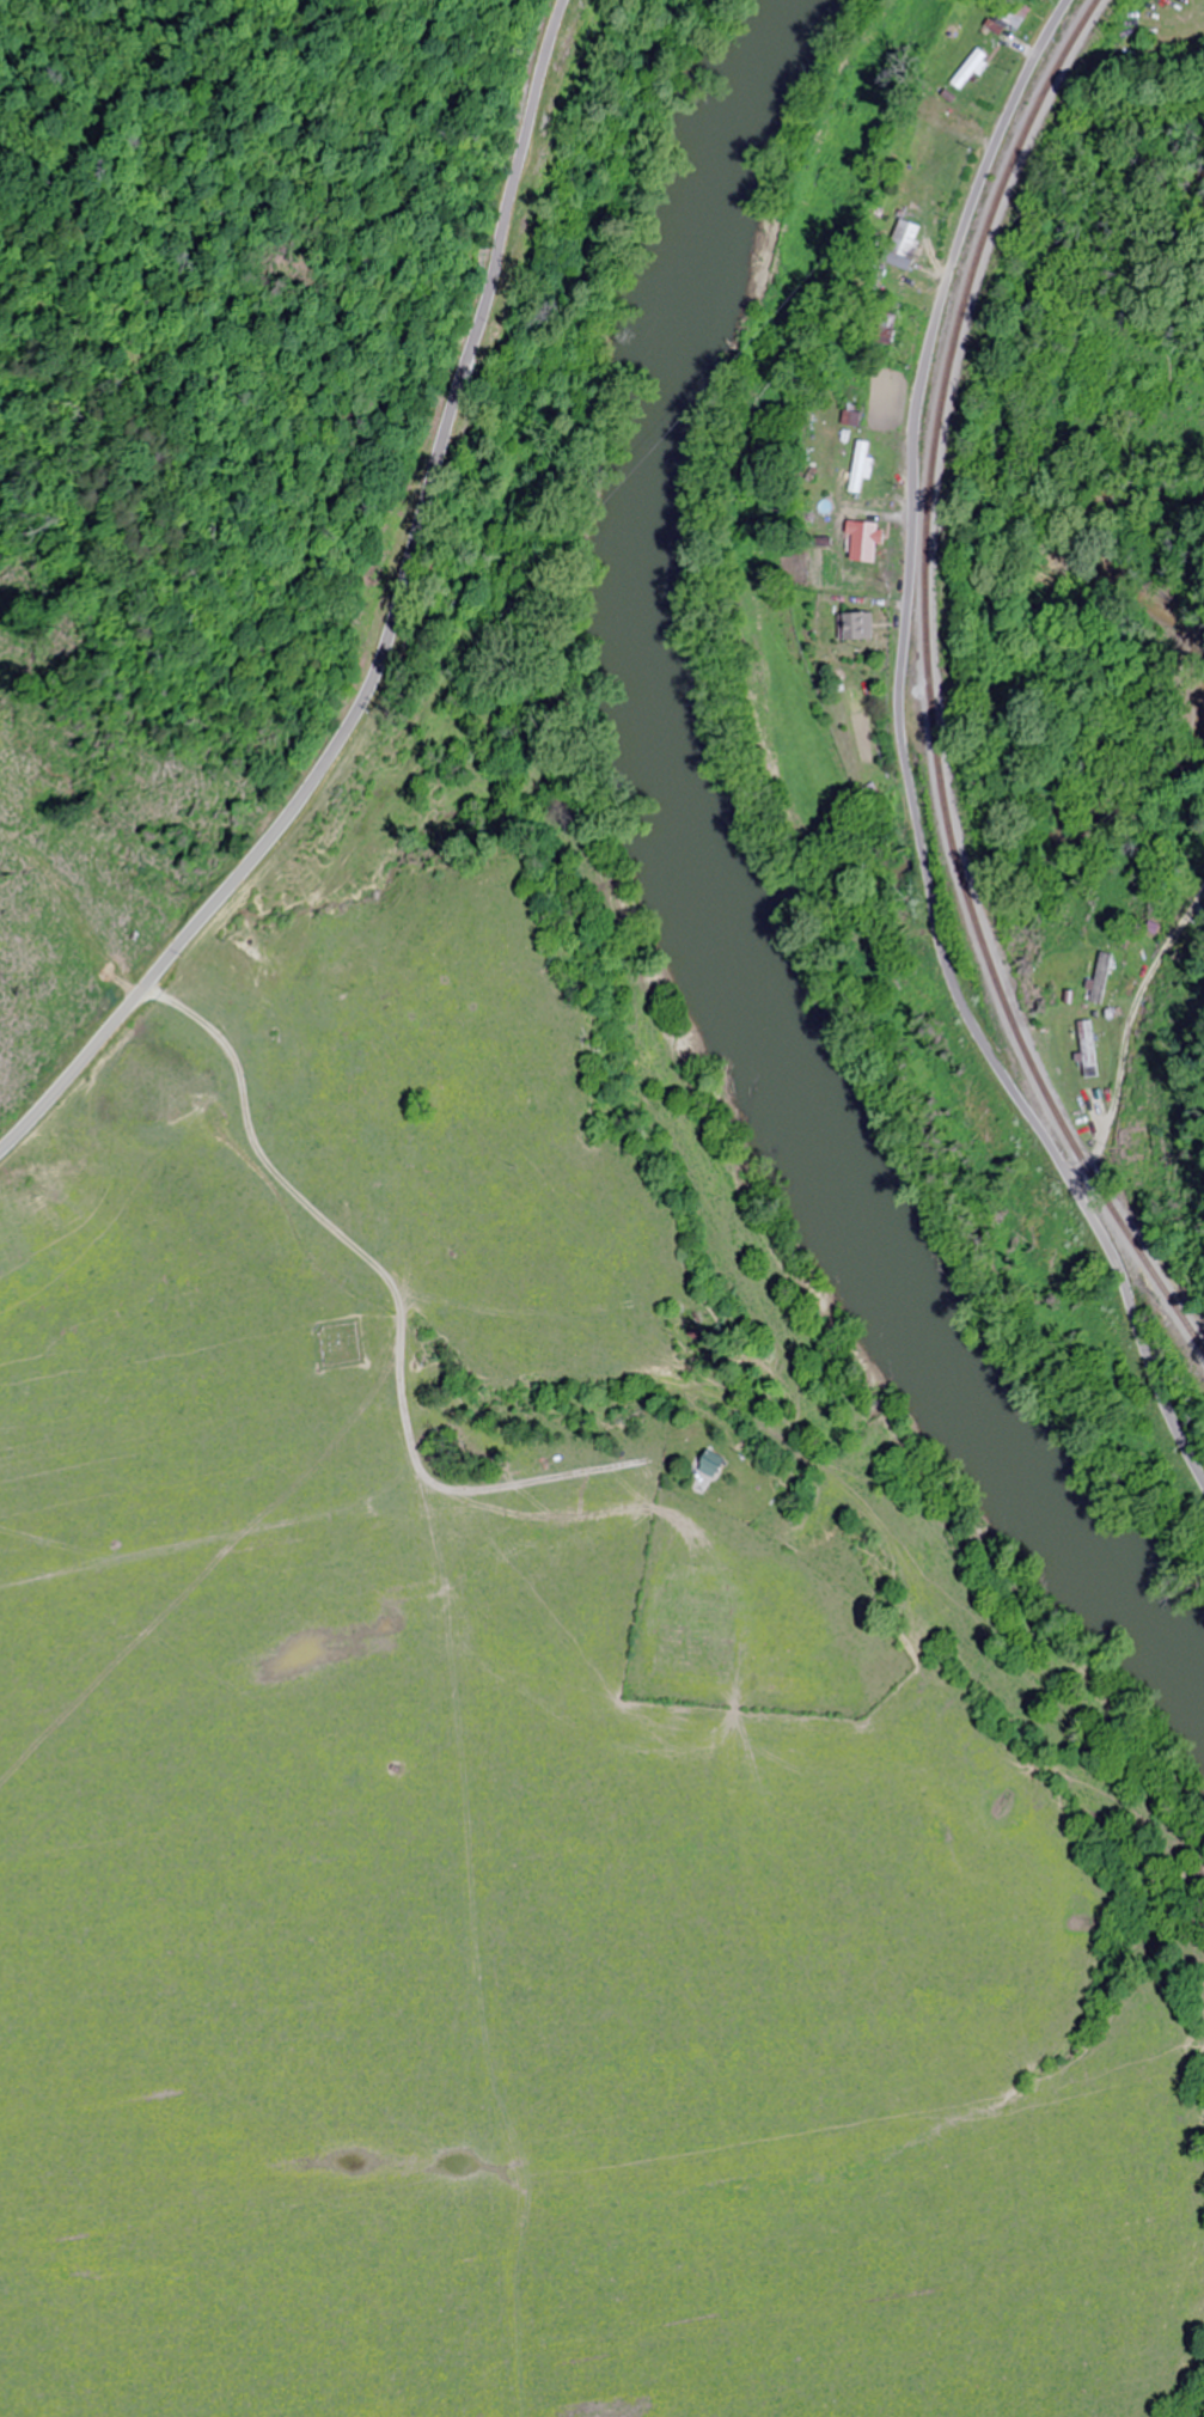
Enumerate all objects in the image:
building: (967, 68)
building: (904, 237)
building: (858, 465)
building: (851, 625)
road: (390, 630)
railway: (934, 689)
road: (907, 761)
river: (738, 886)
road: (1142, 1019)
road: (279, 1174)
building: (705, 1466)

